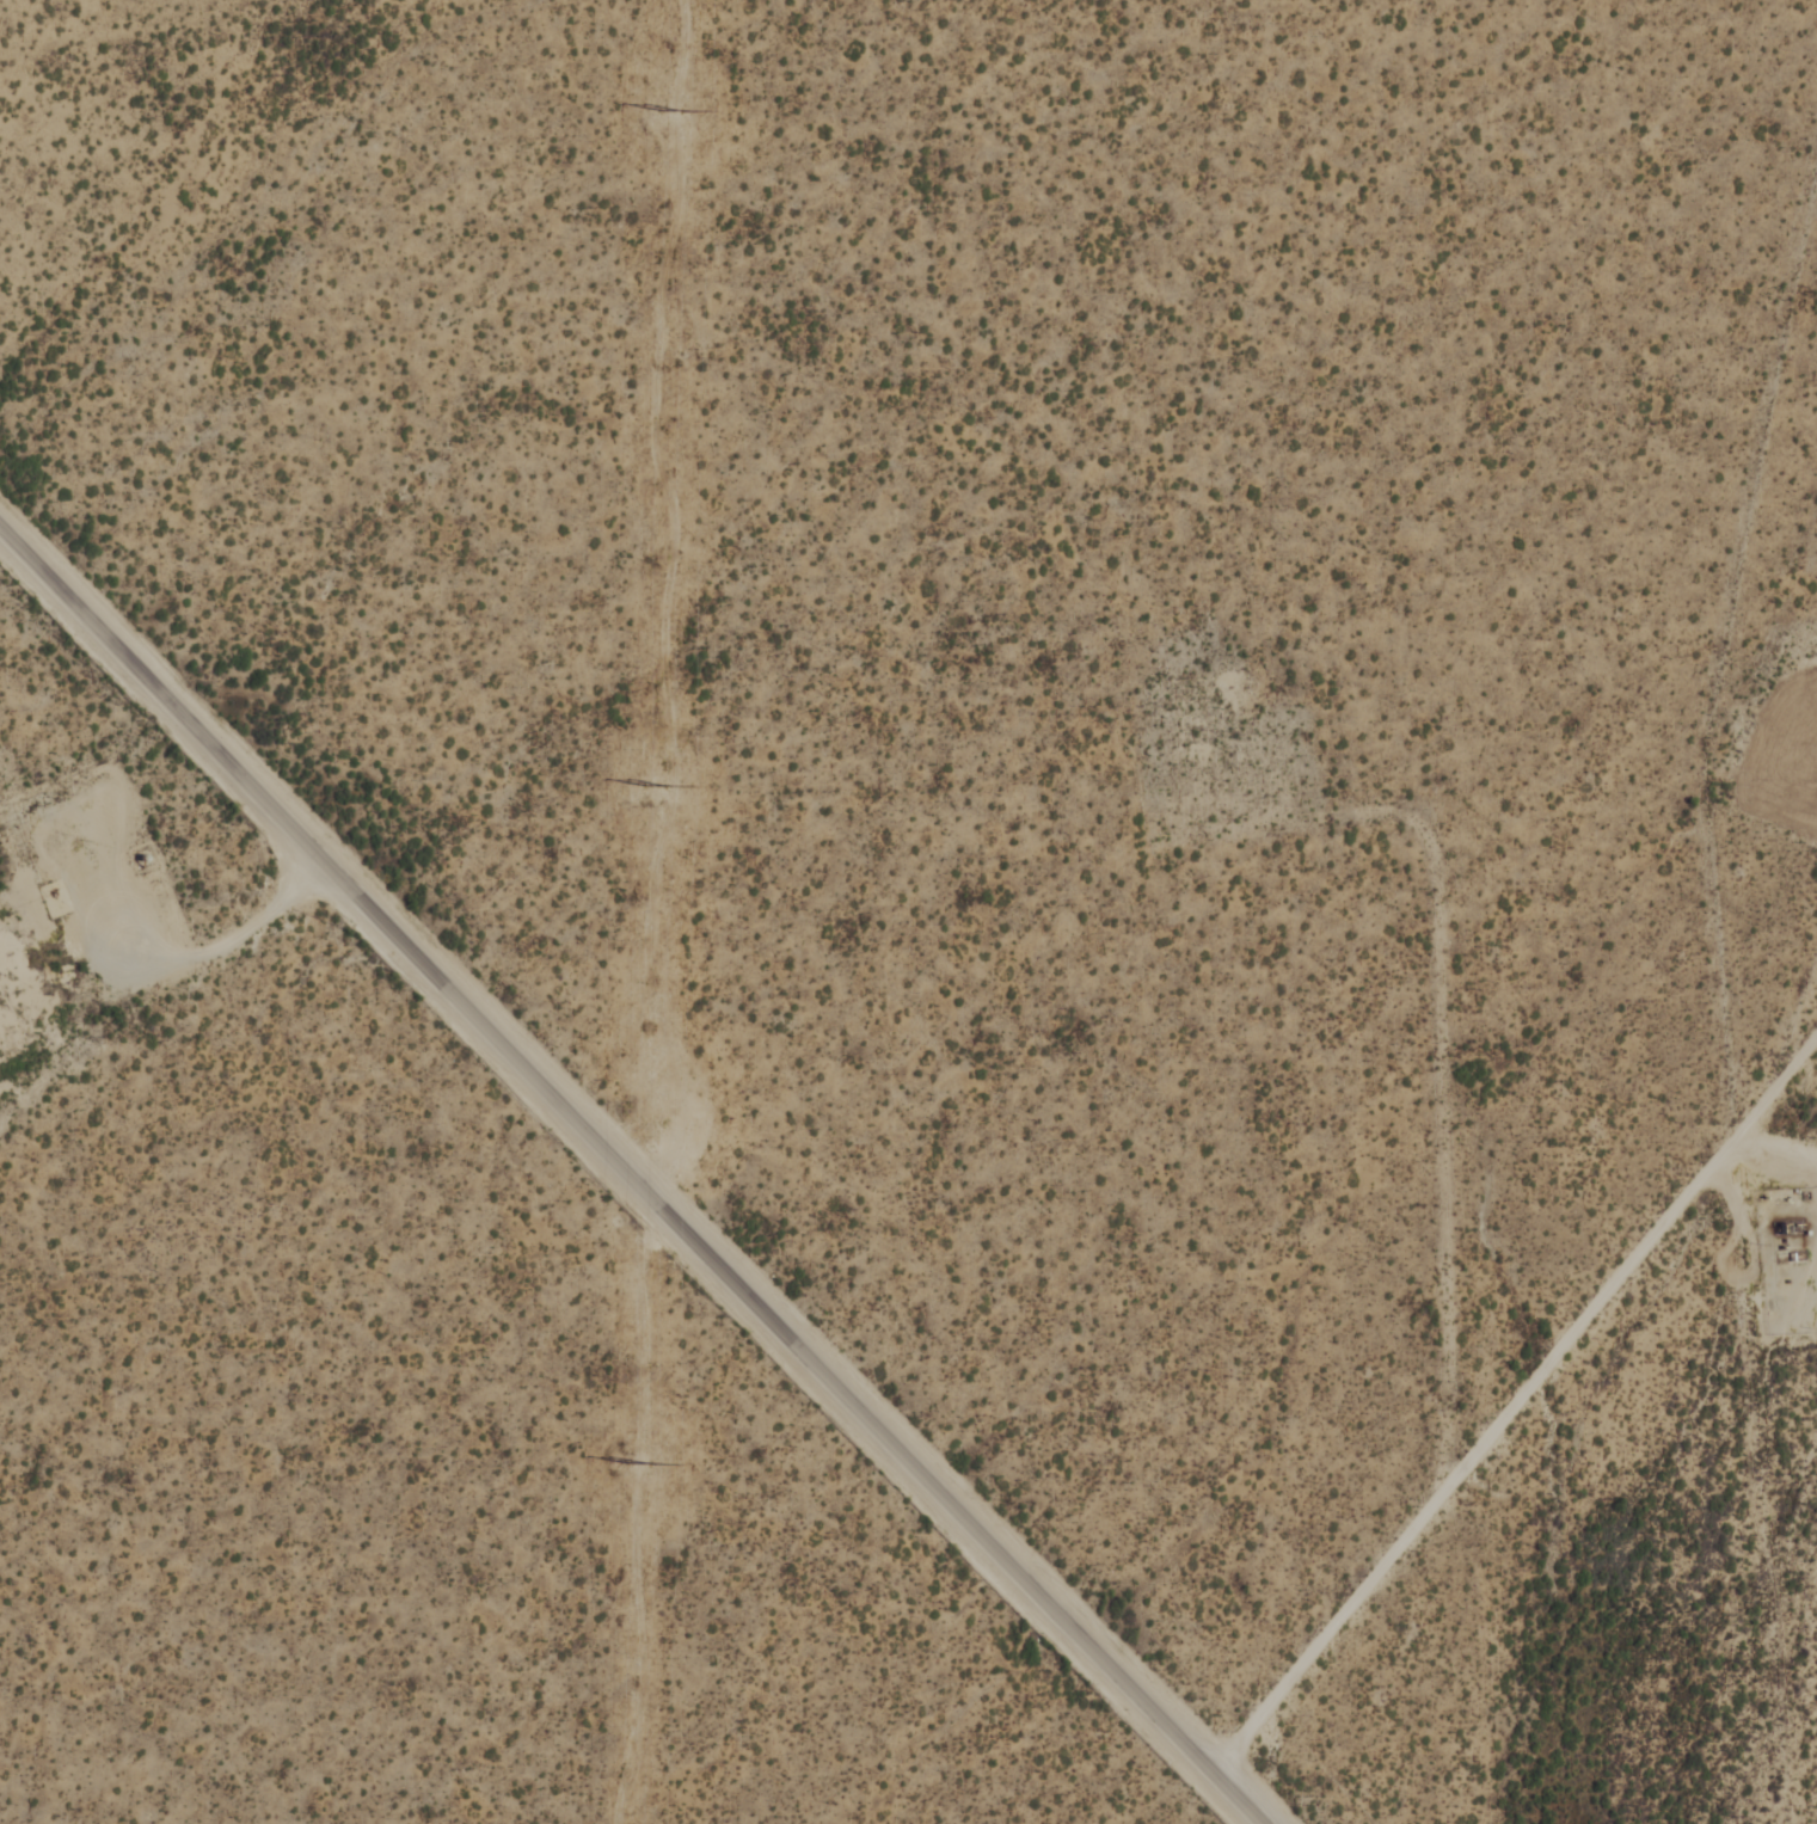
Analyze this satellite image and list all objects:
power tower: (667, 113)
power tower: (650, 784)
road: (221, 945)
road: (1776, 1157)
road: (630, 1175)
road: (1515, 1405)
power tower: (633, 1463)

